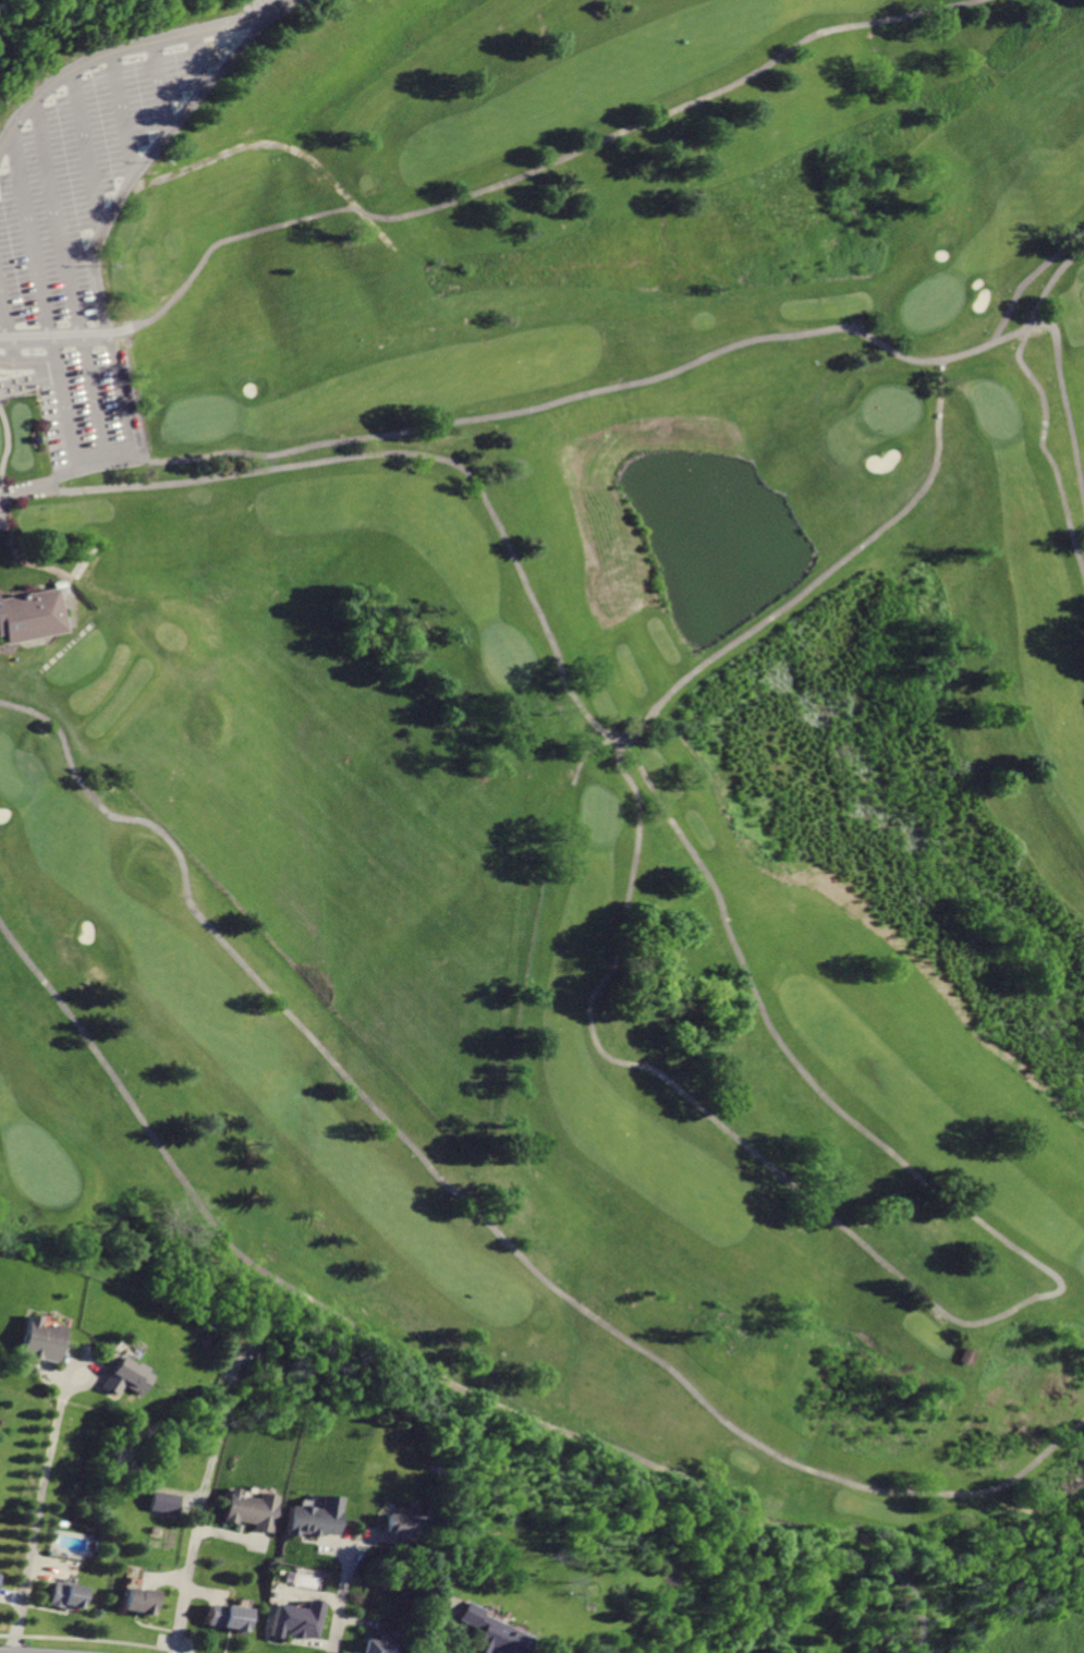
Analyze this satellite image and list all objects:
road: (103, 47)
road: (174, 62)
road: (136, 88)
road: (98, 117)
road: (147, 134)
road: (267, 146)
road: (474, 193)
parking lot: (94, 219)
road: (84, 268)
road: (1024, 276)
road: (1048, 284)
road: (42, 294)
park: (928, 301)
road: (9, 333)
road: (596, 389)
road: (9, 391)
road: (1063, 400)
park: (887, 409)
park: (995, 409)
park: (202, 417)
road: (1044, 451)
road: (61, 478)
road: (4, 498)
building: (32, 618)
road: (73, 620)
park: (509, 654)
road: (571, 682)
park: (572, 744)
park: (12, 770)
park: (602, 812)
park: (42, 1166)
road: (477, 1208)
road: (982, 1321)
building: (37, 1340)
building: (969, 1356)
road: (413, 1360)
building: (124, 1374)
road: (51, 1377)
road: (87, 1382)
building: (162, 1500)
road: (199, 1505)
building: (252, 1509)
building: (314, 1517)
road: (36, 1521)
building: (400, 1527)
road: (234, 1536)
road: (362, 1542)
road: (333, 1548)
road: (52, 1564)
road: (160, 1577)
road: (185, 1591)
road: (206, 1592)
road: (307, 1592)
building: (63, 1593)
road: (11, 1595)
building: (136, 1600)
road: (340, 1607)
building: (227, 1615)
road: (442, 1618)
building: (295, 1619)
road: (362, 1621)
building: (491, 1631)
building: (375, 1645)

